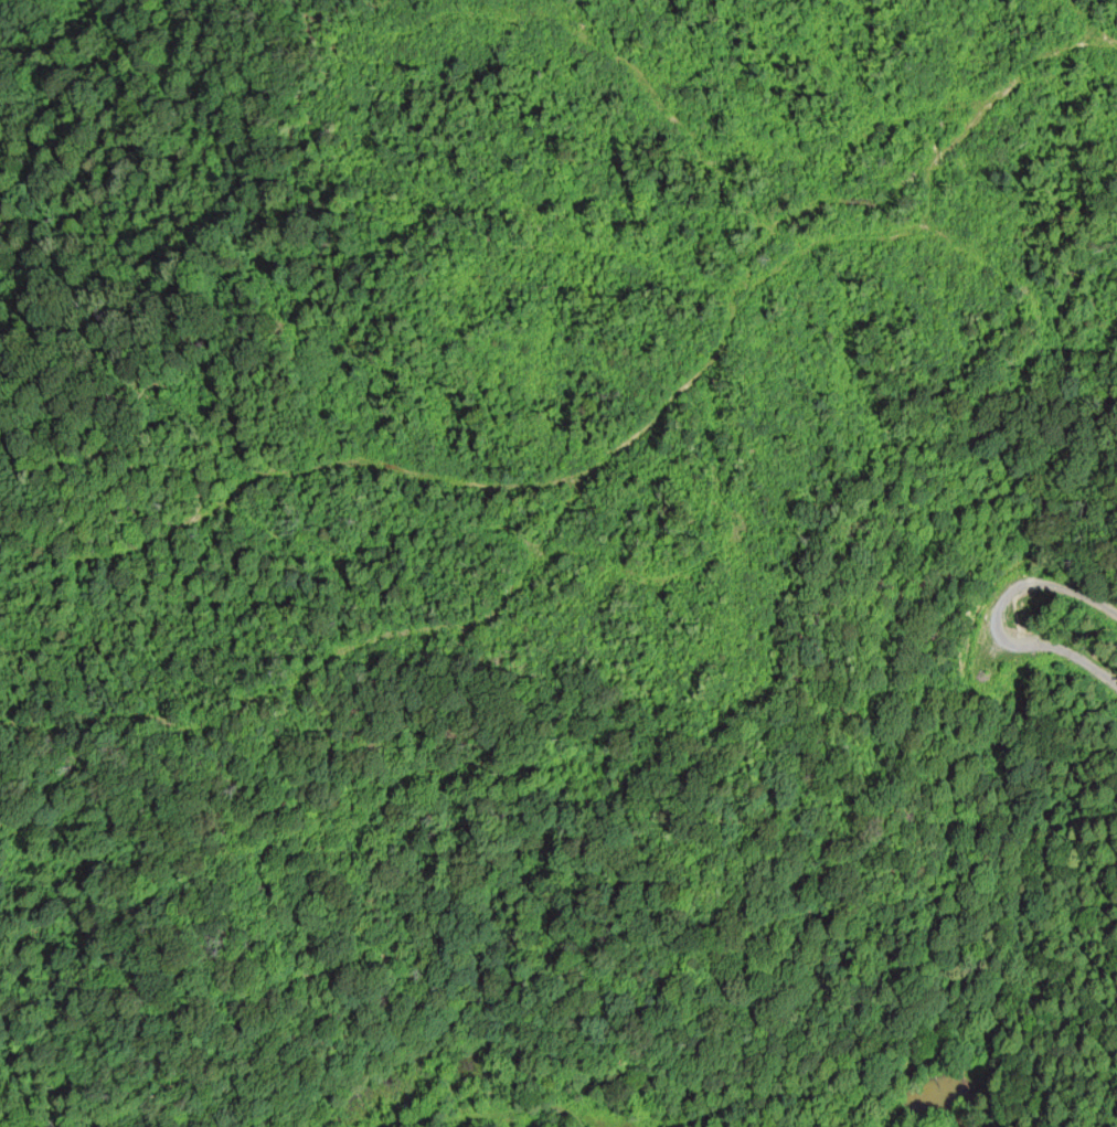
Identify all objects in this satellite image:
road: (1001, 616)

